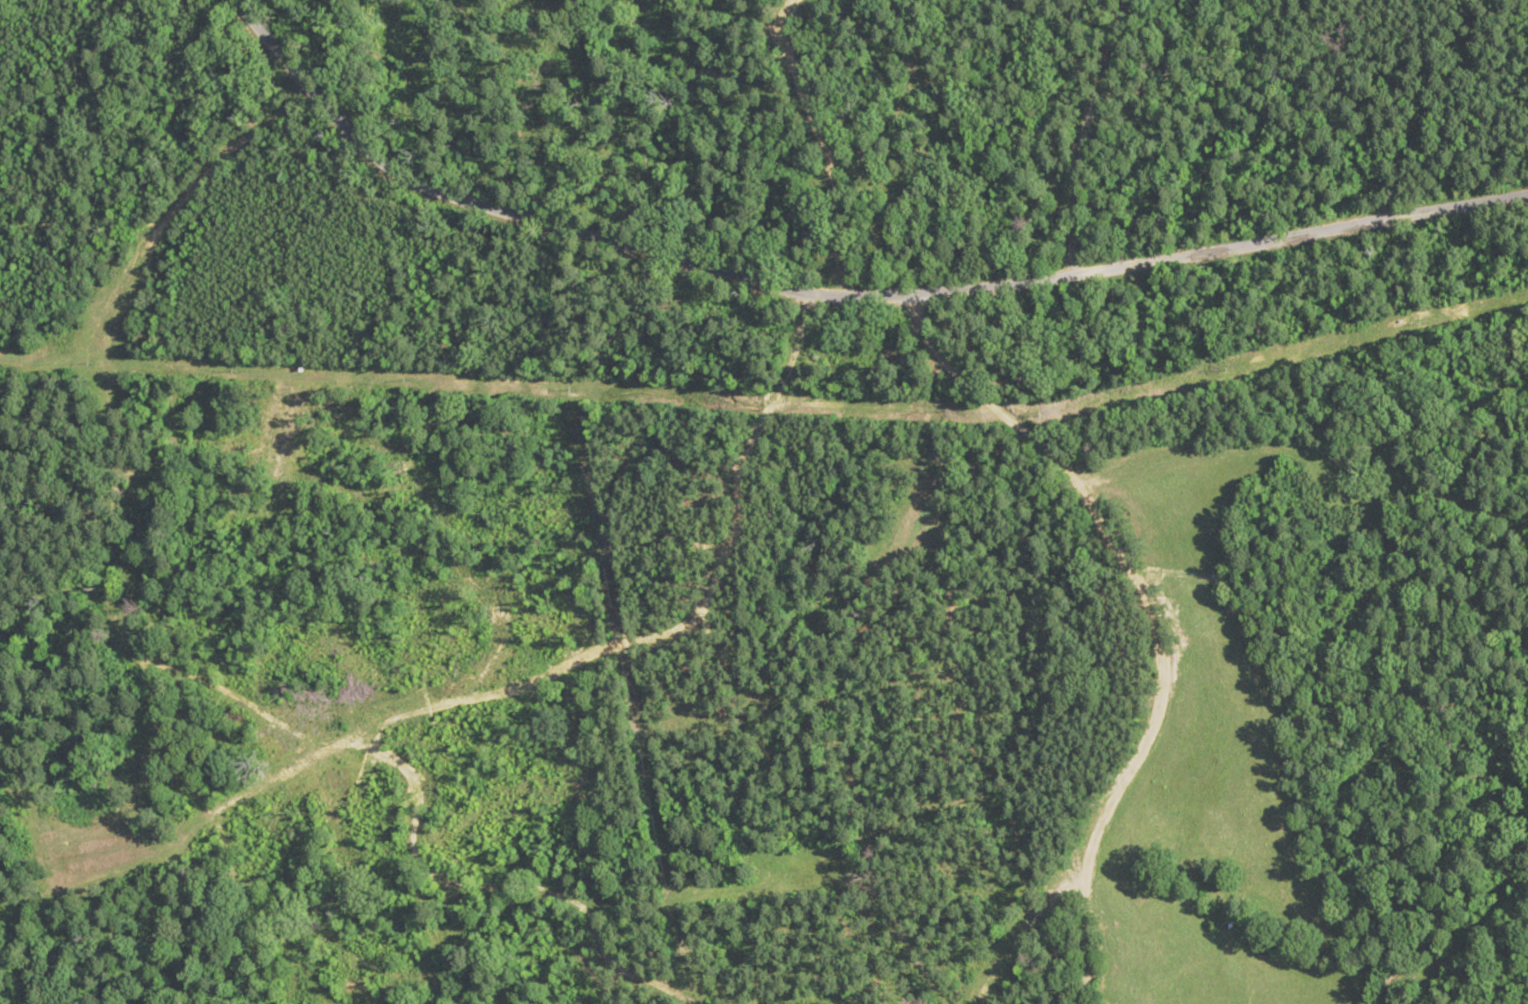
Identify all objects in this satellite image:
road: (840, 291)
road: (1154, 615)

